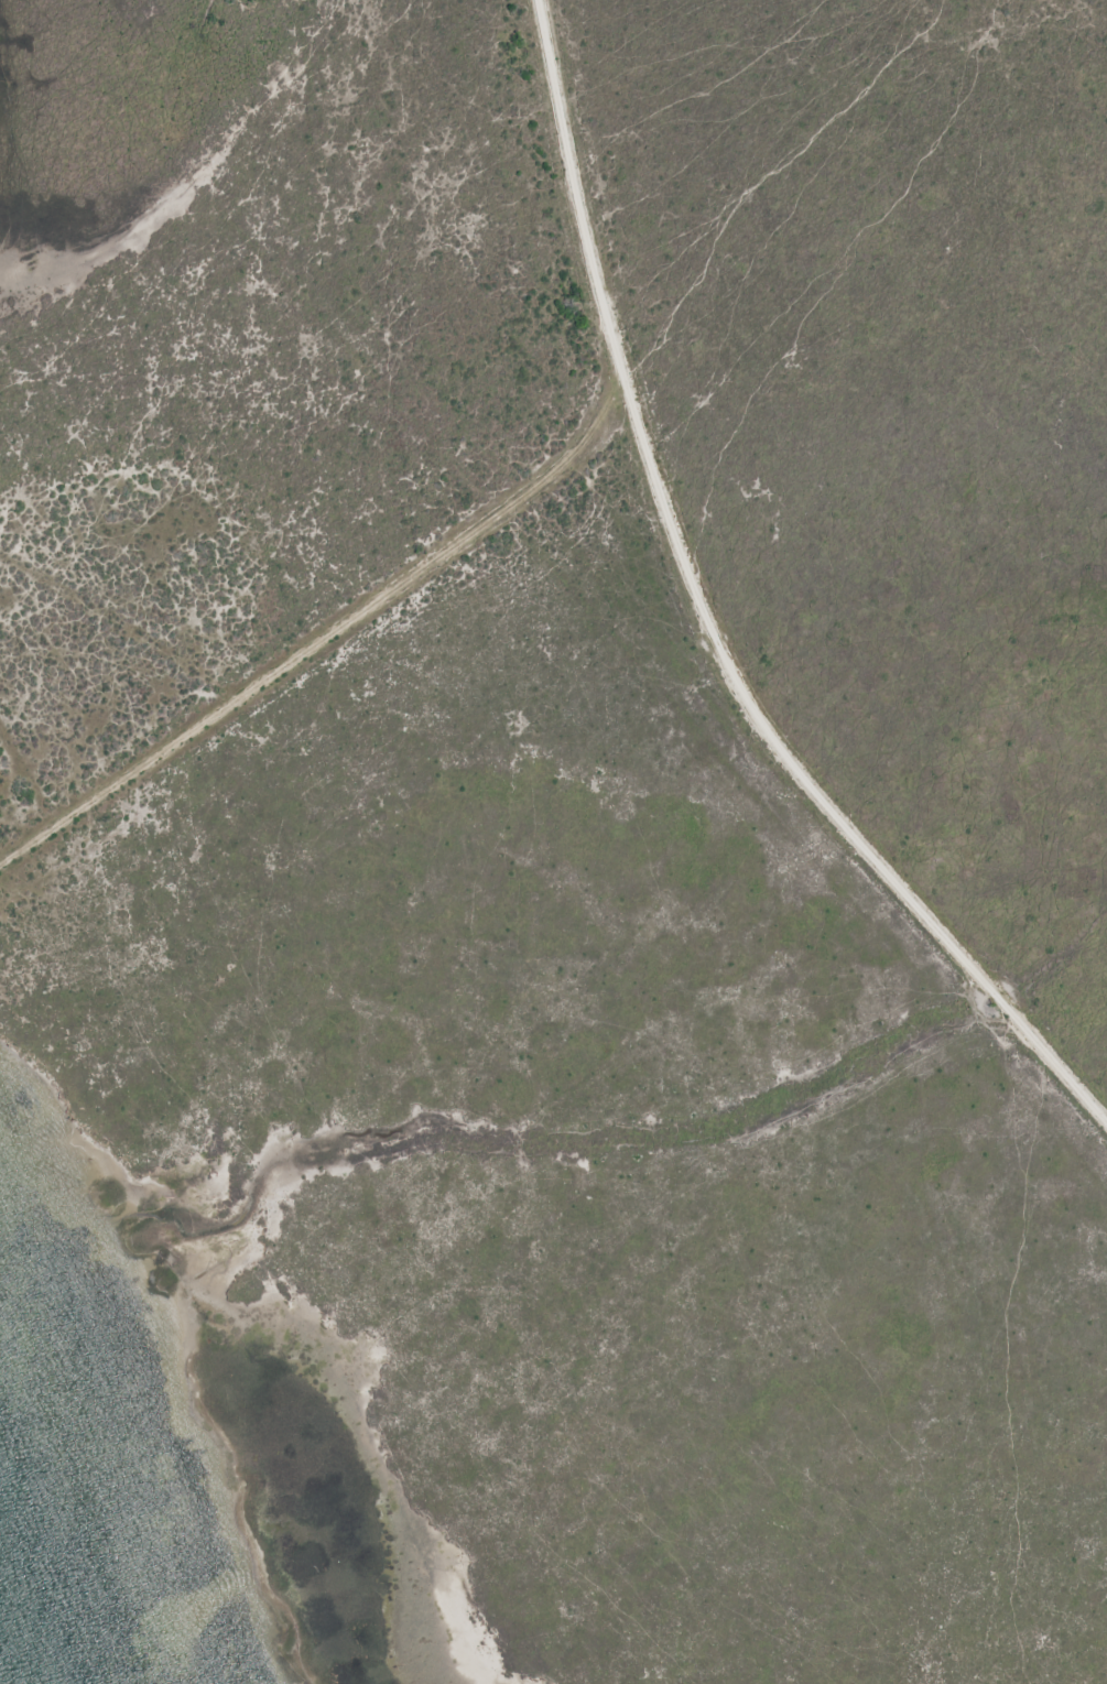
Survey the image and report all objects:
road: (704, 630)
road: (318, 639)

